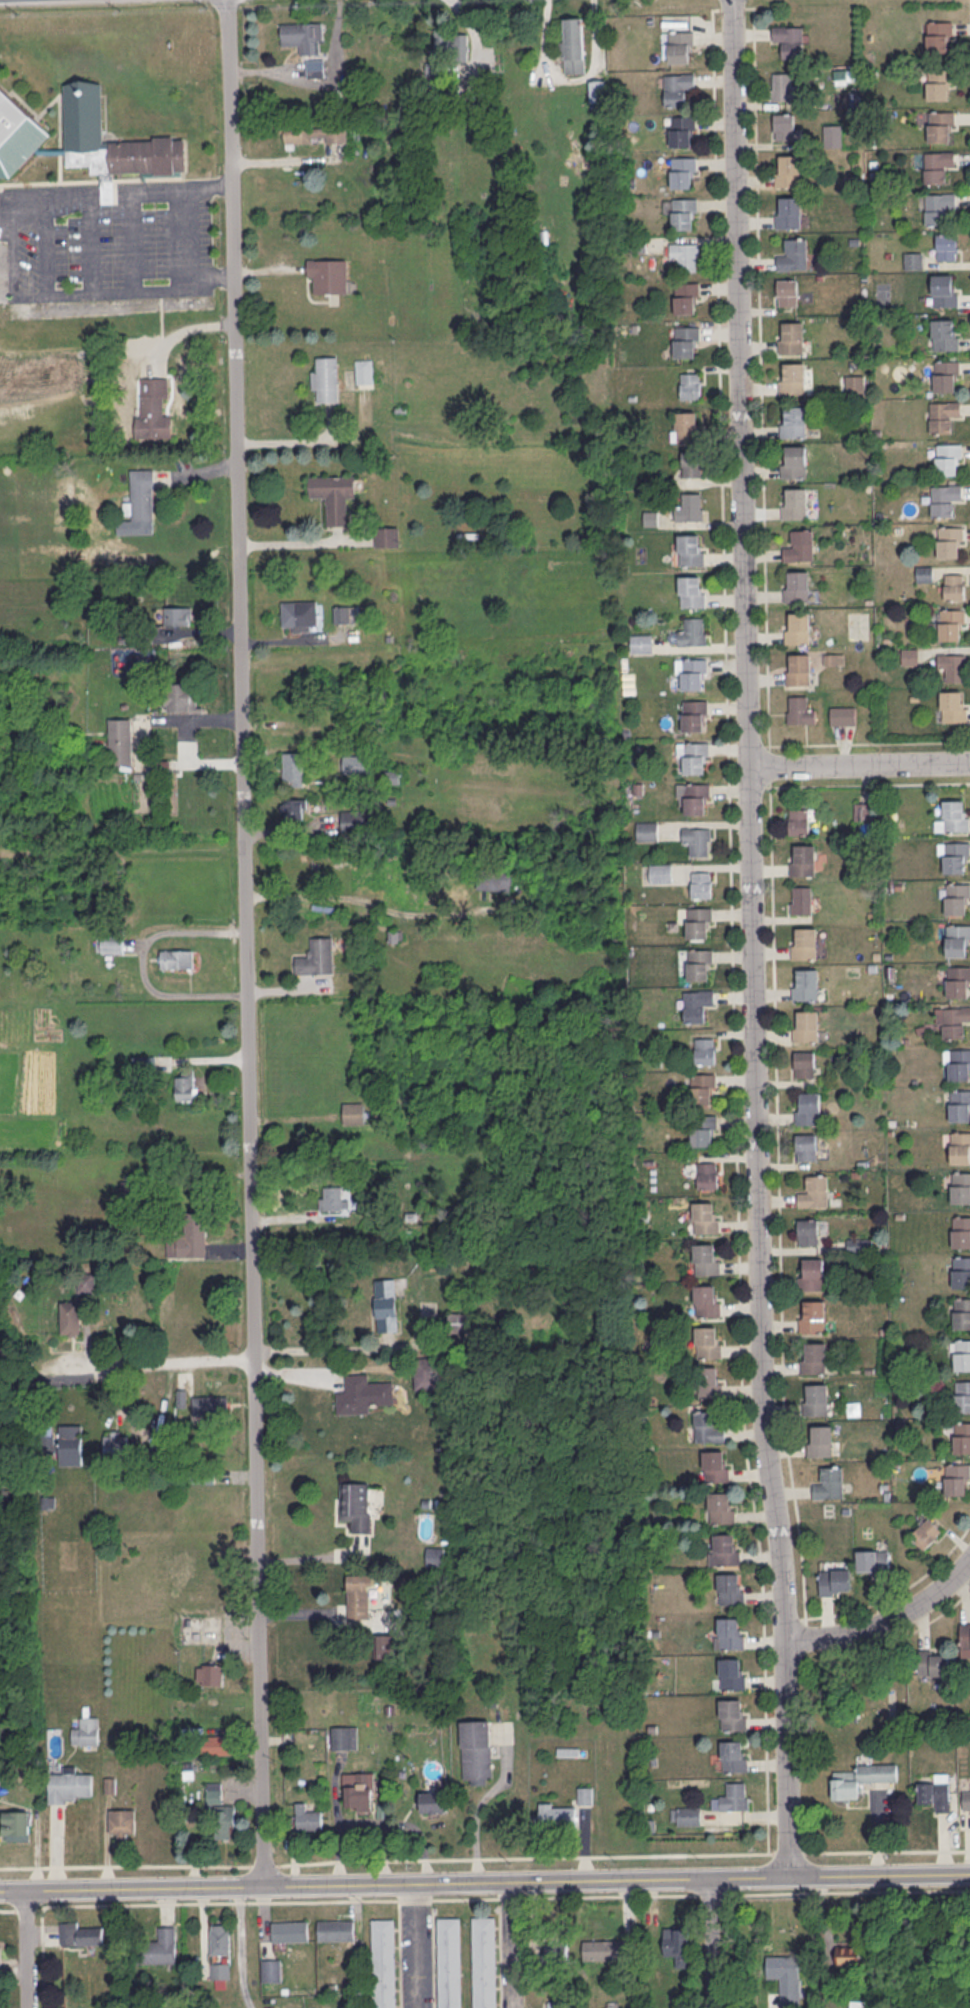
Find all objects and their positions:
road: (731, 7)
building: (303, 34)
building: (938, 35)
building: (789, 40)
building: (679, 44)
building: (573, 45)
building: (459, 46)
building: (315, 66)
road: (268, 68)
road: (570, 78)
building: (939, 84)
building: (784, 86)
building: (676, 88)
building: (597, 89)
building: (940, 126)
building: (785, 127)
building: (681, 129)
building: (315, 133)
building: (17, 135)
building: (833, 135)
building: (111, 142)
building: (937, 165)
building: (788, 170)
building: (682, 171)
road: (137, 185)
road: (39, 186)
road: (93, 186)
road: (171, 204)
building: (939, 207)
building: (789, 211)
building: (683, 212)
building: (947, 246)
building: (794, 254)
building: (685, 255)
building: (913, 260)
road: (271, 268)
building: (329, 274)
road: (118, 286)
building: (944, 289)
building: (787, 291)
building: (685, 296)
building: (945, 333)
building: (792, 336)
building: (685, 340)
building: (364, 370)
road: (760, 373)
building: (945, 374)
building: (793, 377)
building: (326, 378)
building: (854, 383)
building: (690, 385)
building: (154, 409)
building: (943, 415)
building: (794, 420)
building: (686, 426)
road: (301, 440)
building: (947, 457)
building: (794, 460)
building: (692, 463)
building: (142, 493)
building: (334, 494)
building: (944, 497)
building: (795, 502)
building: (690, 507)
building: (650, 518)
building: (386, 536)
building: (949, 540)
building: (800, 545)
building: (690, 549)
building: (924, 573)
building: (798, 584)
building: (953, 586)
building: (691, 590)
building: (299, 614)
building: (341, 614)
building: (178, 615)
building: (951, 622)
building: (799, 626)
building: (692, 631)
road: (189, 633)
road: (298, 639)
building: (641, 643)
building: (834, 658)
building: (952, 665)
building: (799, 667)
building: (693, 672)
building: (182, 697)
building: (953, 705)
building: (800, 710)
building: (694, 713)
building: (842, 715)
building: (120, 740)
road: (187, 741)
road: (866, 743)
road: (755, 745)
building: (695, 755)
building: (356, 763)
road: (768, 763)
road: (858, 763)
building: (293, 768)
road: (866, 784)
road: (755, 786)
building: (696, 797)
building: (295, 808)
building: (862, 811)
building: (954, 816)
building: (798, 820)
building: (351, 821)
building: (646, 831)
building: (697, 839)
building: (955, 855)
building: (803, 859)
building: (660, 873)
building: (494, 879)
building: (701, 883)
building: (956, 897)
building: (801, 899)
building: (697, 921)
road: (731, 927)
building: (395, 935)
road: (751, 937)
building: (957, 939)
road: (246, 942)
building: (805, 942)
building: (113, 945)
building: (317, 956)
building: (177, 957)
building: (699, 963)
road: (141, 965)
building: (958, 980)
building: (806, 984)
building: (696, 1004)
building: (952, 1020)
building: (806, 1025)
building: (704, 1049)
building: (804, 1063)
building: (959, 1063)
building: (186, 1083)
building: (701, 1088)
building: (960, 1104)
building: (808, 1108)
building: (355, 1113)
building: (702, 1129)
building: (960, 1145)
building: (806, 1146)
building: (706, 1174)
building: (960, 1186)
building: (814, 1191)
building: (333, 1199)
road: (778, 1201)
building: (704, 1217)
building: (961, 1230)
building: (807, 1231)
building: (189, 1237)
building: (859, 1244)
building: (705, 1259)
building: (961, 1271)
building: (812, 1274)
building: (86, 1282)
building: (706, 1300)
building: (386, 1305)
building: (428, 1307)
building: (962, 1313)
building: (813, 1315)
building: (69, 1316)
building: (707, 1342)
road: (329, 1348)
building: (962, 1354)
building: (814, 1357)
road: (126, 1362)
building: (424, 1373)
building: (708, 1382)
building: (362, 1394)
building: (962, 1395)
building: (816, 1399)
building: (705, 1426)
building: (962, 1437)
building: (821, 1440)
building: (115, 1443)
building: (64, 1444)
building: (715, 1465)
building: (957, 1478)
building: (830, 1482)
building: (356, 1504)
building: (721, 1507)
building: (926, 1533)
building: (726, 1549)
building: (433, 1553)
road: (319, 1557)
building: (873, 1560)
building: (835, 1580)
building: (730, 1588)
road: (896, 1590)
building: (359, 1594)
road: (303, 1612)
road: (793, 1618)
road: (887, 1620)
road: (806, 1630)
building: (730, 1632)
building: (965, 1636)
road: (893, 1641)
building: (384, 1645)
building: (933, 1662)
building: (210, 1673)
building: (732, 1673)
building: (732, 1714)
building: (86, 1731)
building: (345, 1737)
building: (222, 1744)
building: (476, 1751)
building: (568, 1751)
building: (734, 1756)
building: (861, 1776)
building: (69, 1785)
building: (358, 1790)
building: (936, 1792)
building: (585, 1795)
building: (735, 1796)
building: (966, 1799)
building: (433, 1801)
building: (222, 1812)
building: (558, 1813)
building: (689, 1815)
building: (308, 1818)
building: (122, 1822)
building: (17, 1824)
road: (56, 1844)
road: (789, 1852)
road: (887, 1852)
road: (525, 1856)
road: (124, 1864)
road: (264, 1865)
road: (484, 1879)
road: (823, 1879)
road: (823, 1889)
road: (848, 1891)
road: (712, 1893)
road: (614, 1894)
road: (514, 1897)
road: (466, 1898)
road: (416, 1899)
road: (220, 1901)
road: (27, 1907)
road: (7, 1909)
building: (290, 1930)
building: (336, 1930)
building: (82, 1934)
building: (220, 1939)
road: (711, 1942)
road: (520, 1943)
road: (413, 1945)
building: (678, 1945)
road: (31, 1946)
building: (162, 1946)
road: (241, 1947)
building: (556, 1949)
building: (605, 1949)
road: (399, 1953)
parking lot: (416, 1953)
building: (849, 1956)
road: (43, 1957)
road: (433, 1957)
building: (449, 1962)
building: (484, 1962)
building: (383, 1963)
building: (271, 1969)
building: (220, 1970)
building: (787, 1977)
building: (560, 2004)
building: (861, 2004)

